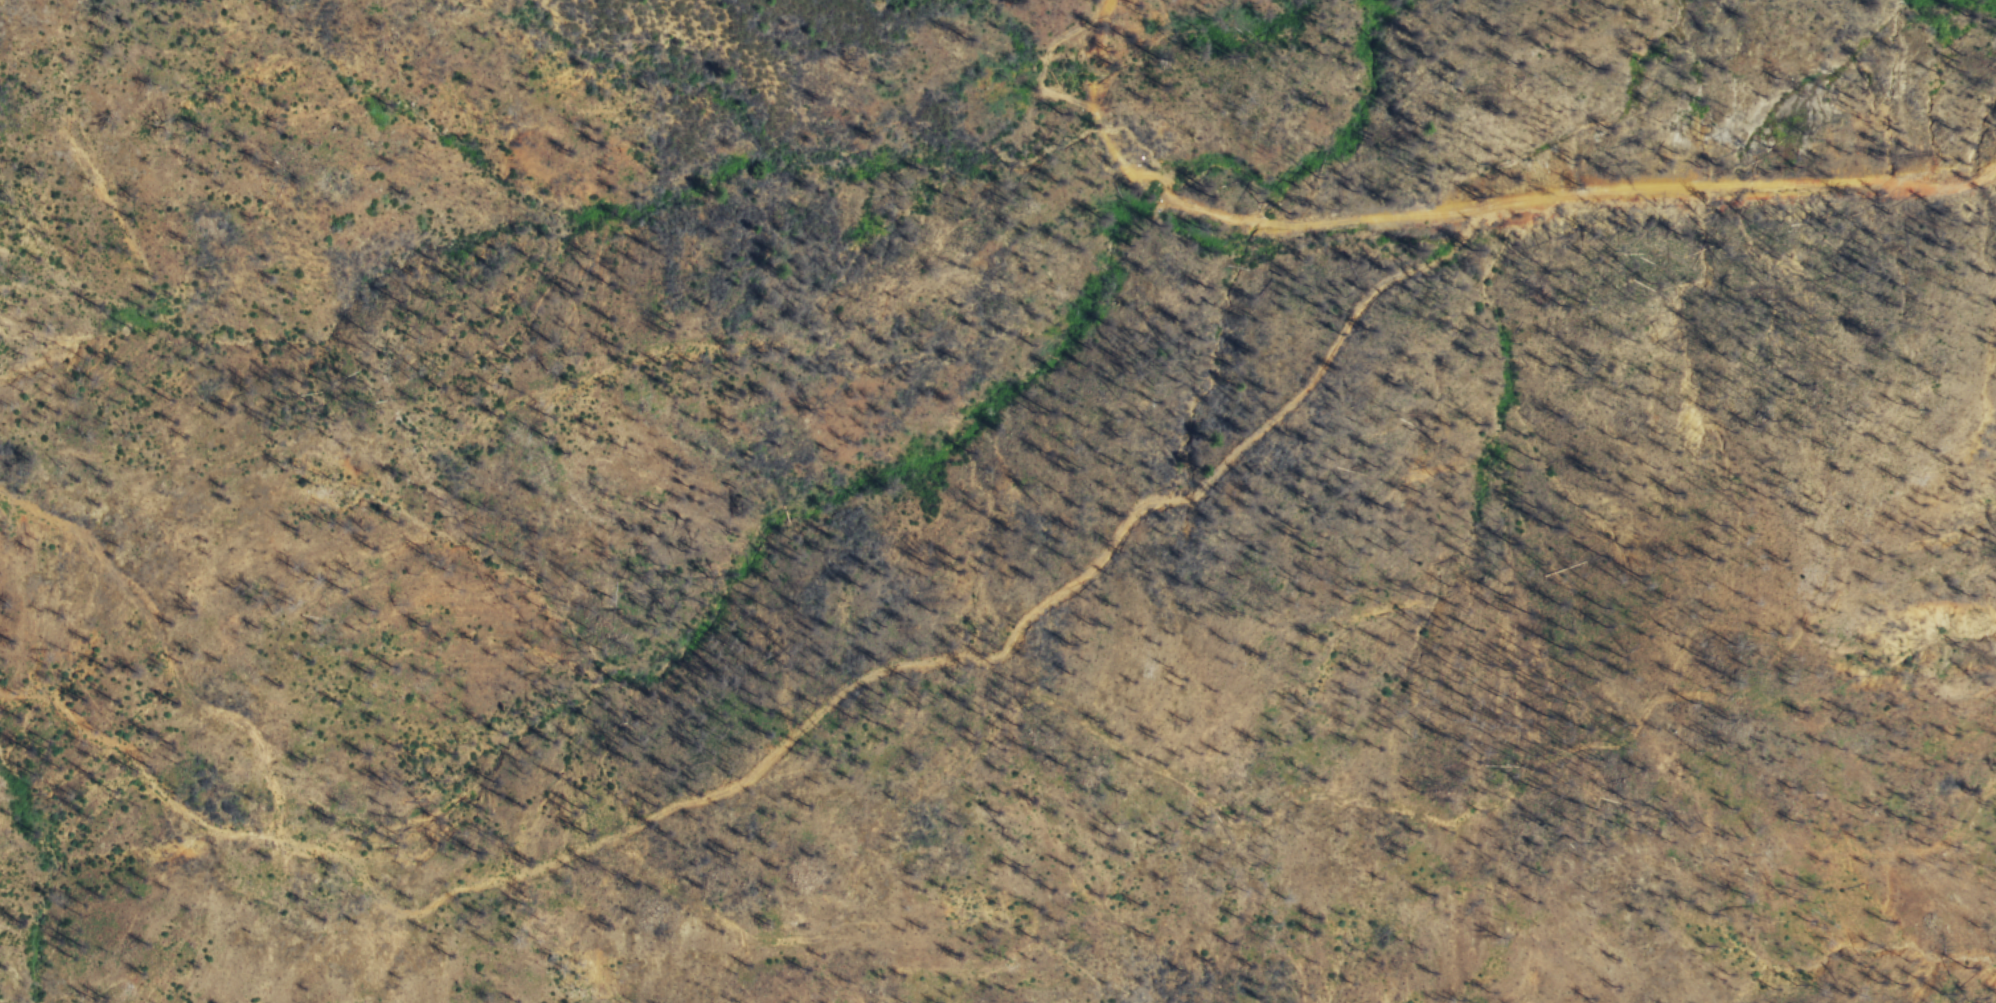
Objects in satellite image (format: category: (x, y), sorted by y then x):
road: (1465, 209)

